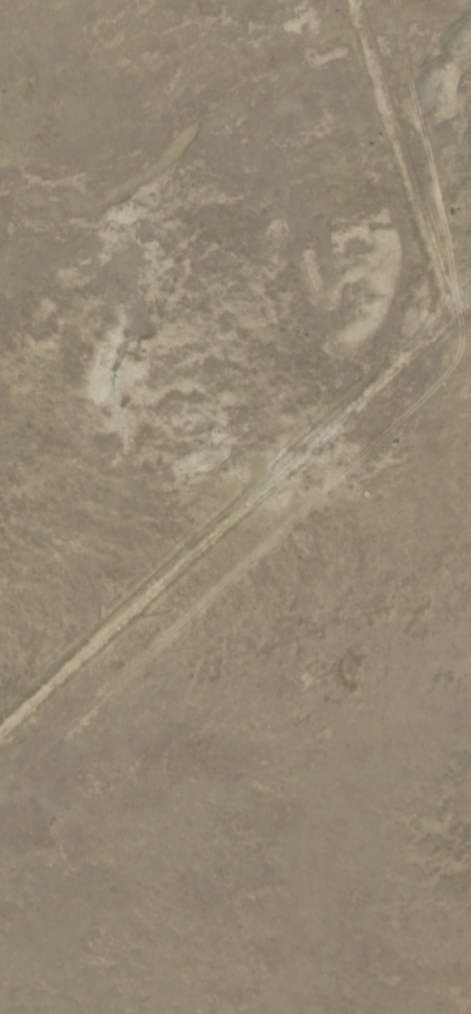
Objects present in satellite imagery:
road: (391, 159)
road: (236, 518)

